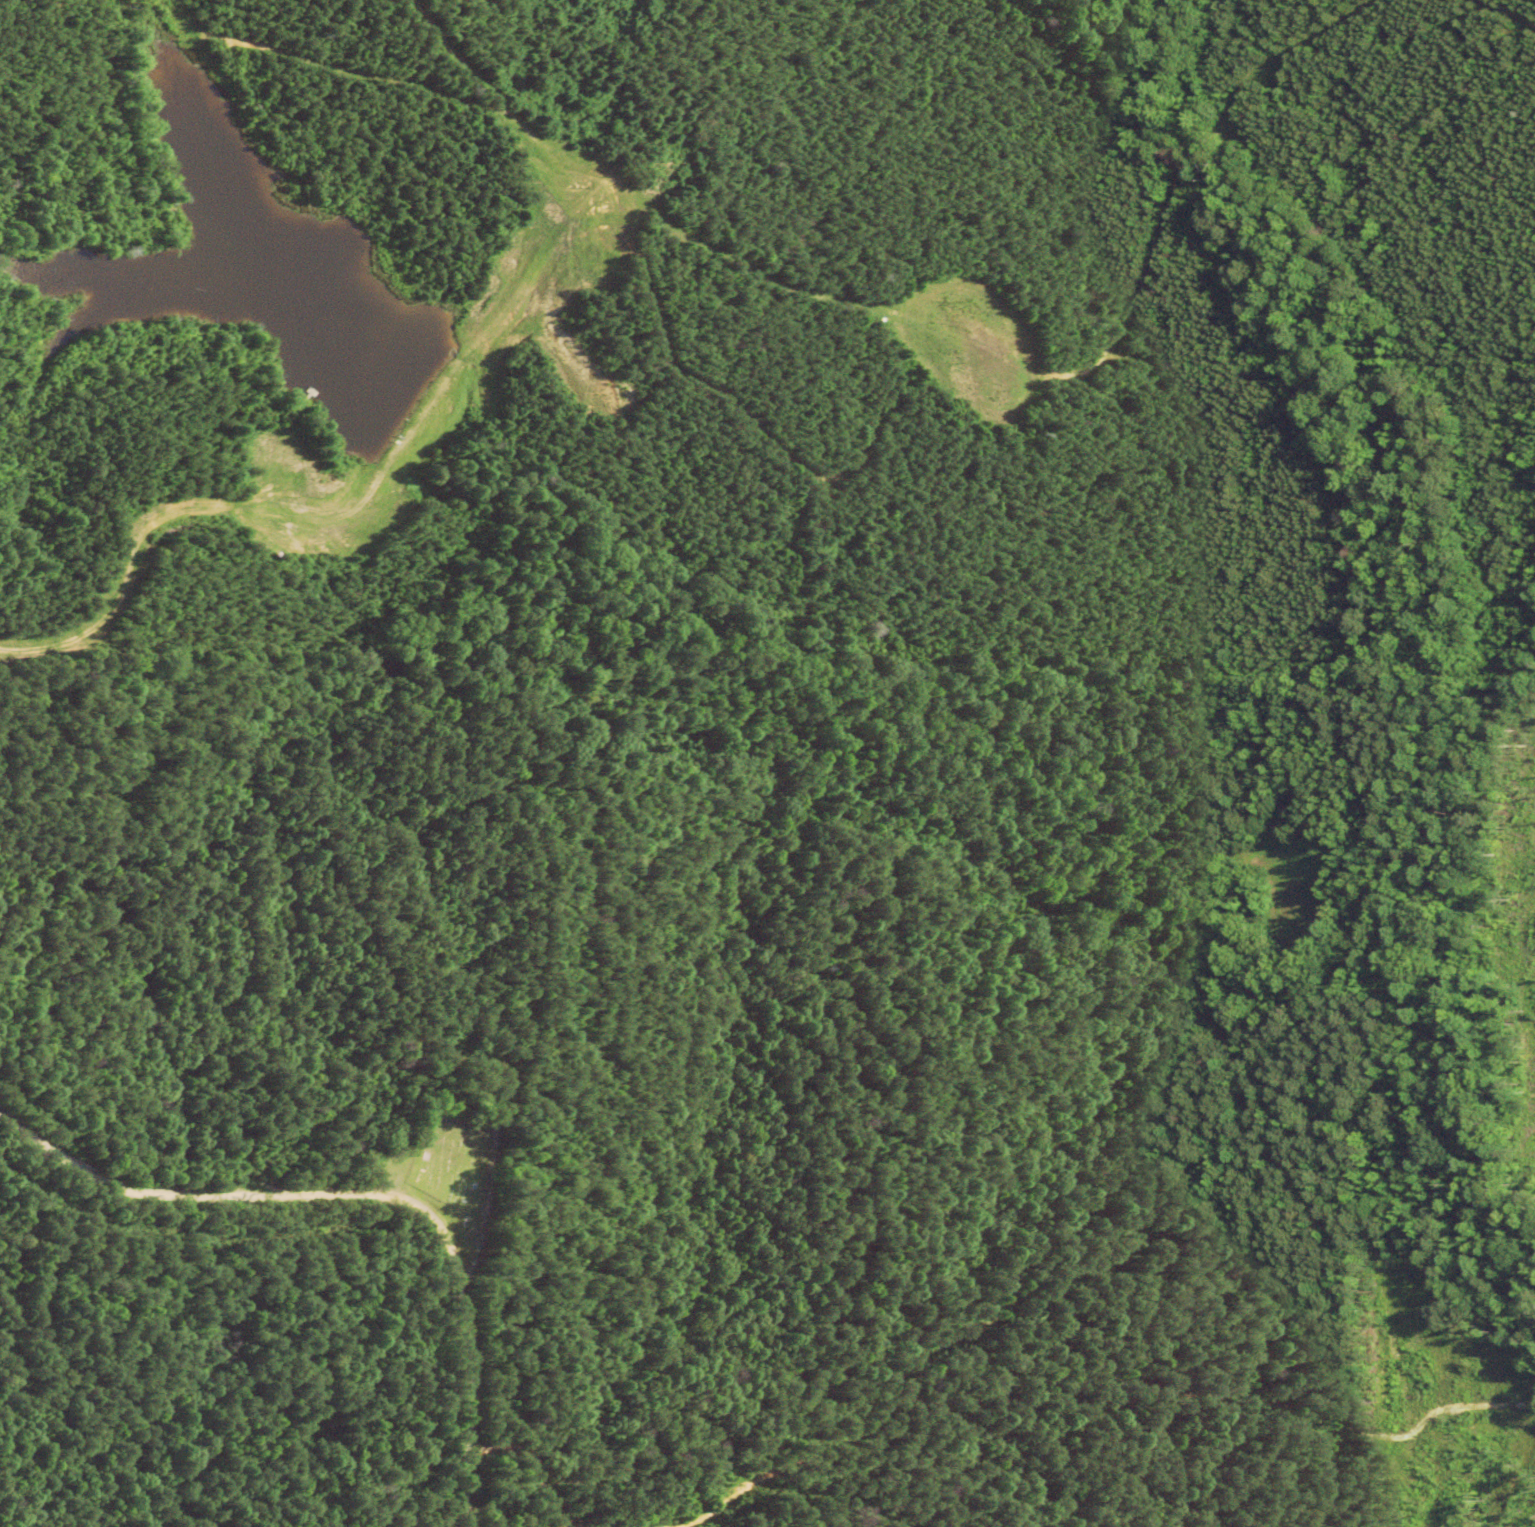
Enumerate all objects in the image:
park: (462, 1164)
road: (370, 1192)

